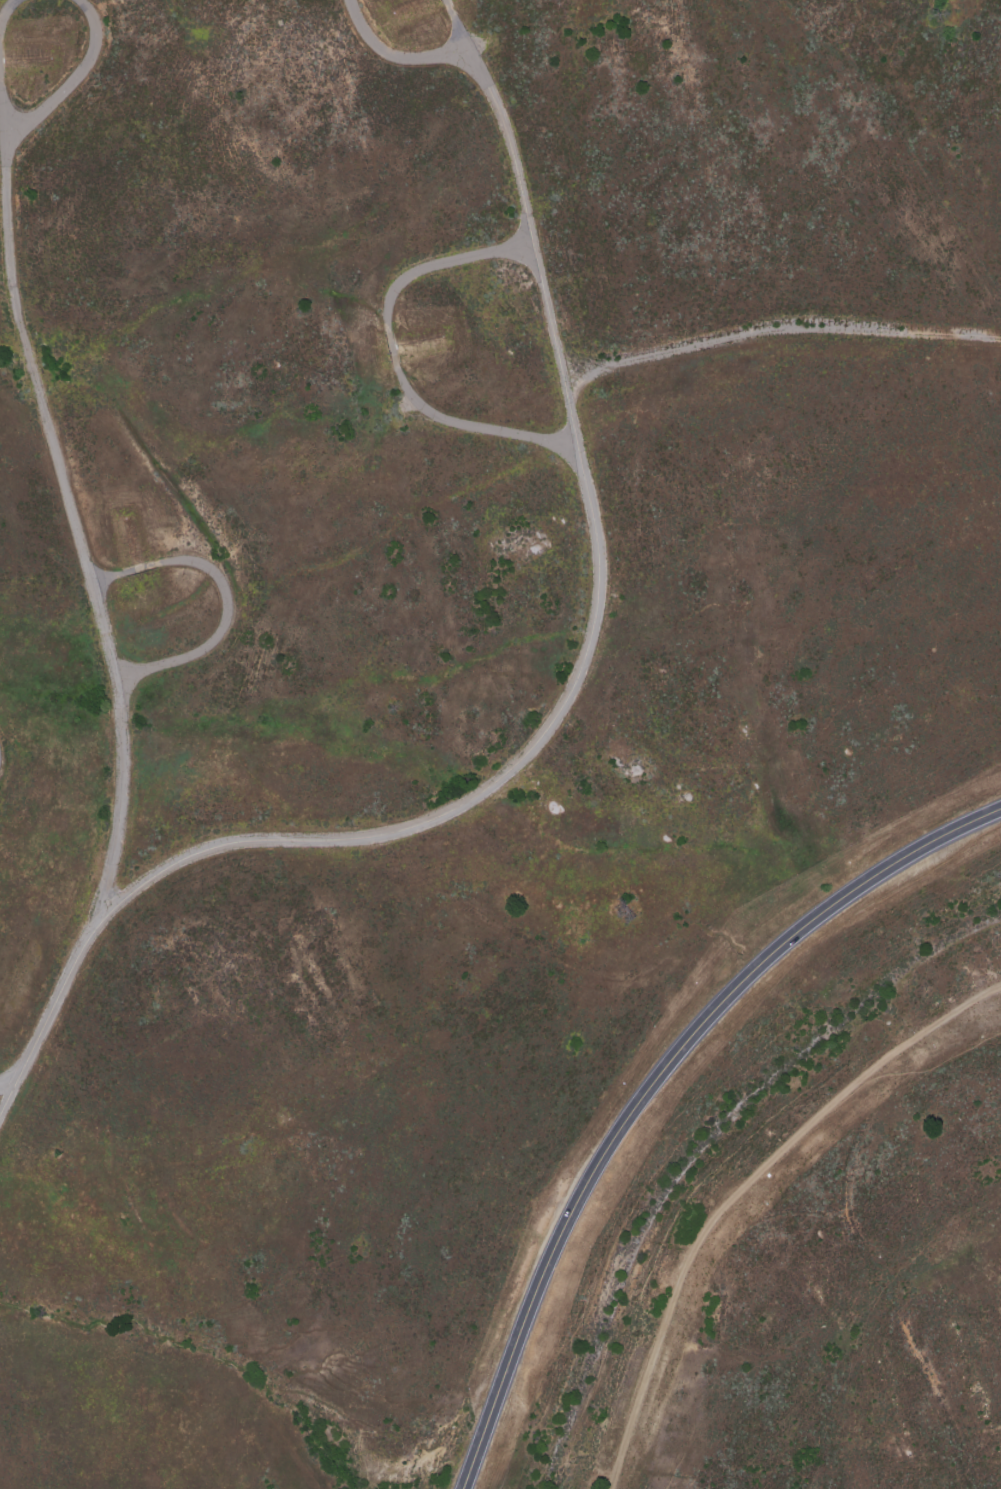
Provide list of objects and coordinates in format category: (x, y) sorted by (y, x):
road: (19, 41)
road: (412, 56)
road: (779, 327)
road: (393, 356)
road: (236, 612)
road: (594, 629)
road: (112, 644)
road: (8, 1079)
road: (653, 1085)
road: (742, 1192)

